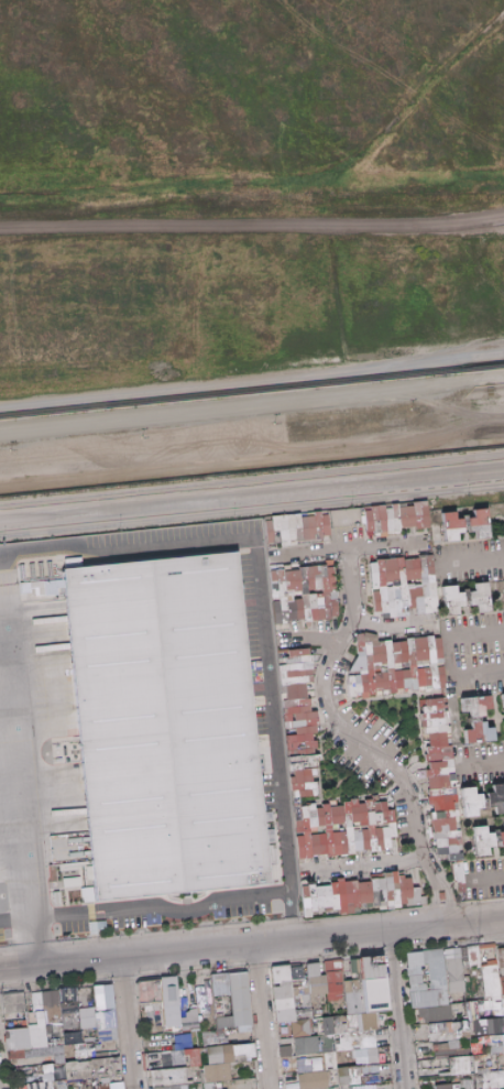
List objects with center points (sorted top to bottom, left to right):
road: (41, 43)
road: (252, 237)
road: (252, 374)
road: (251, 401)
road: (252, 457)
road: (252, 496)
building: (399, 504)
building: (385, 505)
building: (365, 508)
building: (321, 512)
building: (308, 513)
building: (421, 513)
building: (302, 514)
building: (408, 515)
building: (415, 515)
building: (393, 516)
building: (401, 516)
building: (265, 518)
building: (380, 518)
building: (373, 520)
building: (387, 520)
building: (366, 521)
building: (462, 521)
building: (355, 523)
building: (476, 523)
building: (316, 524)
building: (322, 524)
building: (449, 525)
building: (296, 526)
building: (310, 526)
building: (304, 527)
building: (440, 527)
building: (274, 529)
building: (282, 530)
building: (289, 530)
building: (267, 531)
building: (388, 532)
building: (395, 532)
building: (381, 533)
building: (440, 537)
road: (346, 548)
road: (478, 555)
building: (328, 564)
building: (285, 567)
building: (428, 567)
building: (414, 568)
building: (420, 568)
building: (385, 569)
building: (392, 569)
building: (398, 569)
building: (406, 569)
building: (379, 573)
building: (372, 575)
building: (308, 577)
building: (315, 577)
building: (322, 578)
building: (329, 578)
building: (287, 579)
building: (303, 579)
building: (295, 580)
building: (273, 581)
building: (280, 581)
building: (393, 582)
building: (410, 582)
building: (386, 584)
building: (415, 585)
road: (352, 586)
building: (503, 586)
building: (373, 589)
building: (316, 590)
building: (288, 591)
building: (310, 591)
building: (296, 592)
building: (330, 592)
building: (283, 593)
building: (274, 595)
building: (310, 595)
building: (317, 595)
building: (462, 595)
building: (502, 595)
building: (293, 596)
building: (424, 596)
building: (430, 596)
building: (478, 596)
building: (487, 596)
building: (274, 598)
building: (409, 598)
building: (394, 599)
building: (402, 599)
building: (417, 599)
building: (449, 599)
building: (381, 600)
building: (388, 600)
building: (375, 601)
building: (440, 601)
building: (324, 605)
building: (331, 605)
building: (503, 605)
building: (304, 607)
building: (297, 608)
building: (311, 608)
building: (318, 608)
building: (282, 609)
building: (289, 609)
building: (275, 611)
road: (386, 625)
road: (479, 633)
road: (314, 638)
building: (421, 647)
building: (436, 647)
building: (415, 649)
building: (428, 649)
building: (402, 650)
building: (365, 651)
building: (373, 651)
building: (408, 651)
building: (296, 652)
building: (380, 652)
building: (394, 652)
building: (386, 653)
building: (357, 654)
road: (452, 655)
building: (296, 658)
building: (437, 660)
building: (280, 661)
building: (423, 661)
building: (416, 662)
building: (403, 663)
building: (437, 663)
building: (395, 664)
building: (295, 665)
building: (401, 665)
building: (424, 665)
building: (381, 666)
building: (417, 666)
building: (398, 667)
building: (403, 667)
building: (395, 668)
building: (380, 669)
building: (374, 671)
road: (481, 671)
building: (353, 672)
building: (361, 672)
building: (293, 673)
building: (348, 673)
building: (281, 674)
building: (438, 674)
building: (431, 675)
building: (418, 676)
building: (425, 676)
building: (404, 677)
building: (410, 677)
building: (396, 678)
building: (292, 679)
building: (382, 679)
building: (388, 679)
building: (375, 680)
building: (369, 682)
building: (355, 683)
building: (361, 683)
building: (439, 685)
building: (349, 686)
building: (426, 686)
building: (292, 687)
building: (294, 695)
building: (282, 696)
building: (502, 699)
building: (295, 701)
building: (431, 701)
building: (473, 705)
road: (267, 707)
building: (295, 708)
building: (432, 708)
building: (303, 715)
building: (432, 715)
building: (291, 716)
building: (286, 717)
building: (472, 719)
building: (166, 720)
building: (302, 721)
building: (436, 721)
building: (423, 722)
building: (286, 723)
park: (398, 728)
building: (304, 729)
building: (435, 729)
building: (503, 729)
building: (475, 732)
parking lot: (136, 734)
building: (446, 734)
building: (435, 736)
building: (302, 737)
building: (288, 738)
building: (447, 741)
building: (436, 742)
building: (302, 743)
building: (287, 745)
building: (437, 749)
building: (299, 751)
road: (365, 751)
building: (448, 754)
building: (437, 755)
building: (426, 756)
building: (298, 758)
building: (427, 760)
building: (449, 762)
road: (481, 762)
building: (437, 764)
building: (300, 765)
building: (445, 770)
building: (431, 771)
building: (303, 772)
park: (349, 772)
building: (449, 776)
building: (436, 777)
building: (299, 778)
building: (450, 783)
building: (437, 784)
building: (303, 785)
road: (17, 787)
building: (315, 791)
building: (440, 791)
building: (303, 792)
building: (293, 793)
building: (452, 797)
building: (495, 797)
building: (439, 798)
building: (428, 799)
building: (459, 802)
building: (468, 802)
building: (482, 803)
building: (452, 805)
building: (295, 806)
building: (440, 806)
building: (325, 809)
building: (382, 809)
building: (368, 810)
building: (374, 810)
building: (353, 813)
building: (449, 813)
building: (339, 814)
building: (346, 814)
building: (360, 814)
building: (437, 814)
building: (310, 815)
building: (331, 815)
building: (388, 815)
building: (430, 815)
building: (318, 816)
building: (304, 817)
building: (296, 818)
building: (454, 818)
building: (441, 820)
building: (326, 821)
building: (380, 823)
building: (429, 823)
building: (357, 826)
building: (454, 826)
building: (337, 827)
building: (441, 827)
building: (429, 828)
building: (297, 829)
building: (316, 829)
building: (391, 829)
building: (370, 831)
building: (451, 832)
building: (437, 834)
building: (493, 835)
building: (327, 836)
building: (385, 836)
building: (500, 836)
building: (348, 839)
building: (355, 839)
building: (363, 839)
building: (377, 839)
building: (457, 839)
building: (443, 840)
building: (470, 840)
building: (480, 840)
building: (335, 842)
building: (342, 842)
building: (313, 843)
building: (320, 843)
building: (305, 845)
building: (371, 845)
building: (299, 847)
building: (458, 847)
building: (445, 848)
building: (328, 849)
building: (471, 852)
building: (452, 856)
road: (369, 863)
building: (457, 870)
building: (393, 881)
building: (303, 882)
building: (372, 883)
road: (483, 883)
building: (352, 885)
building: (460, 886)
building: (332, 887)
building: (386, 887)
building: (399, 887)
building: (406, 887)
building: (380, 889)
building: (339, 891)
building: (346, 891)
building: (366, 891)
building: (253, 892)
building: (360, 892)
building: (414, 893)
building: (325, 895)
building: (394, 895)
building: (440, 895)
building: (304, 896)
building: (318, 896)
building: (461, 896)
building: (310, 897)
building: (373, 897)
road: (447, 897)
building: (353, 899)
building: (401, 900)
building: (407, 900)
building: (419, 900)
road: (431, 900)
building: (332, 902)
building: (408, 903)
building: (366, 904)
building: (388, 904)
building: (395, 905)
building: (347, 907)
building: (319, 908)
building: (326, 908)
building: (340, 908)
building: (354, 908)
building: (305, 911)
road: (43, 914)
road: (34, 916)
road: (4, 919)
road: (252, 944)
building: (503, 945)
road: (41, 954)
building: (429, 956)
building: (471, 956)
building: (462, 957)
building: (500, 957)
building: (489, 962)
building: (336, 966)
building: (475, 966)
building: (353, 967)
building: (369, 967)
building: (311, 969)
building: (412, 970)
building: (464, 970)
building: (500, 970)
building: (436, 971)
building: (294, 973)
building: (336, 974)
building: (349, 974)
building: (452, 974)
building: (494, 974)
building: (497, 974)
building: (328, 976)
building: (346, 976)
building: (412, 982)
building: (489, 982)
building: (218, 983)
building: (316, 984)
building: (350, 984)
building: (502, 984)
building: (332, 985)
building: (419, 987)
building: (426, 987)
building: (435, 987)
building: (201, 989)
building: (371, 989)
building: (298, 990)
building: (146, 991)
building: (277, 991)
building: (168, 993)
building: (285, 994)
building: (160, 995)
building: (294, 995)
building: (332, 995)
building: (501, 995)
building: (34, 998)
building: (100, 998)
building: (238, 998)
building: (428, 998)
building: (490, 999)
building: (201, 1000)
building: (304, 1000)
building: (63, 1001)
building: (352, 1001)
building: (11, 1002)
building: (147, 1002)
building: (182, 1003)
building: (168, 1004)
building: (482, 1004)
building: (219, 1005)
building: (228, 1005)
building: (298, 1005)
building: (366, 1005)
building: (376, 1005)
building: (36, 1008)
building: (142, 1008)
building: (495, 1008)
building: (54, 1009)
building: (202, 1009)
road: (399, 1009)
building: (470, 1010)
building: (152, 1011)
building: (107, 1012)
building: (187, 1012)
building: (300, 1013)
building: (316, 1013)
building: (331, 1013)
building: (430, 1013)
building: (447, 1013)
building: (205, 1014)
building: (68, 1015)
building: (86, 1016)
building: (100, 1016)
road: (261, 1016)
building: (463, 1016)
building: (28, 1017)
building: (332, 1017)
building: (198, 1019)
building: (351, 1019)
building: (375, 1019)
building: (419, 1020)
building: (222, 1021)
building: (364, 1021)
building: (188, 1022)
building: (501, 1022)
road: (125, 1023)
building: (495, 1023)
building: (13, 1024)
building: (347, 1024)
building: (485, 1024)
building: (325, 1025)
building: (315, 1026)
building: (446, 1026)
building: (462, 1026)
building: (297, 1027)
building: (435, 1027)
building: (473, 1027)
building: (172, 1028)
building: (453, 1028)
building: (64, 1030)
building: (166, 1030)
building: (35, 1031)
building: (105, 1031)
building: (495, 1031)
building: (434, 1034)
building: (249, 1035)
building: (448, 1035)
building: (460, 1035)
building: (51, 1036)
building: (212, 1037)
building: (317, 1037)
building: (14, 1038)
building: (88, 1038)
building: (481, 1038)
building: (354, 1039)
building: (180, 1042)
building: (502, 1042)
building: (327, 1043)
building: (498, 1043)
building: (304, 1044)
building: (319, 1044)
building: (452, 1044)
building: (492, 1044)
building: (317, 1045)
building: (66, 1046)
building: (441, 1046)
building: (434, 1048)
building: (200, 1050)
building: (284, 1050)
building: (503, 1050)
building: (81, 1052)
building: (241, 1052)
building: (458, 1052)
building: (481, 1052)
building: (224, 1053)
building: (35, 1054)
building: (61, 1054)
building: (112, 1054)
building: (387, 1054)
building: (439, 1054)
building: (212, 1055)
building: (343, 1055)
building: (383, 1055)
building: (50, 1056)
building: (190, 1056)
building: (358, 1056)
building: (372, 1056)
building: (41, 1057)
building: (171, 1057)
building: (382, 1059)
building: (81, 1060)
building: (479, 1061)
building: (231, 1063)
building: (309, 1063)
building: (54, 1065)
building: (338, 1065)
building: (457, 1065)
building: (88, 1067)
building: (114, 1067)
building: (383, 1067)
building: (196, 1069)
building: (369, 1069)
building: (352, 1070)
building: (73, 1071)
building: (45, 1072)
building: (70, 1072)
building: (176, 1072)
building: (215, 1072)
building: (26, 1075)
building: (59, 1075)
building: (35, 1076)
building: (341, 1076)
building: (200, 1077)
building: (313, 1079)
building: (98, 1080)
building: (156, 1080)
building: (73, 1083)
building: (43, 1085)
building: (58, 1085)
building: (120, 1085)
building: (209, 1085)
building: (217, 1085)
building: (29, 1086)
building: (109, 1086)
building: (183, 1086)
building: (448, 1086)
building: (23, 1087)
building: (166, 1087)
building: (363, 1087)

